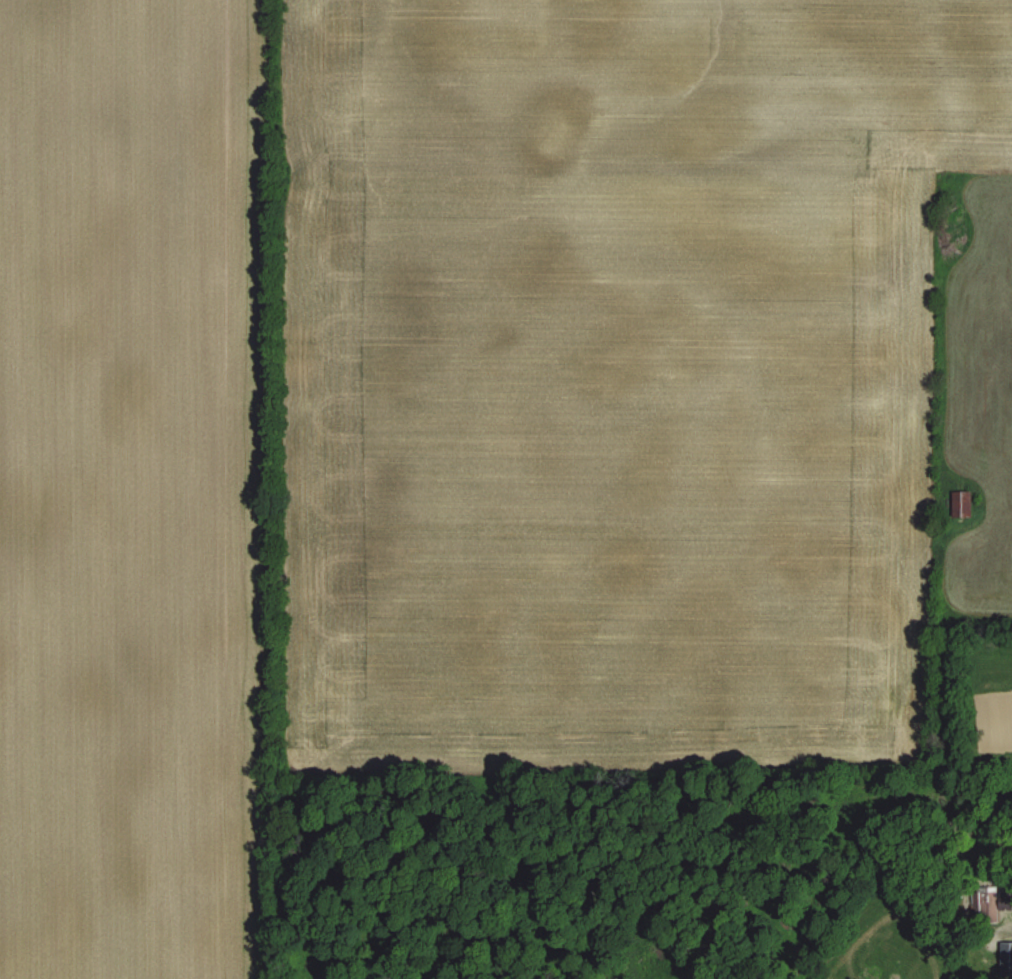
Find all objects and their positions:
building: (961, 504)
building: (985, 905)
building: (1005, 958)

